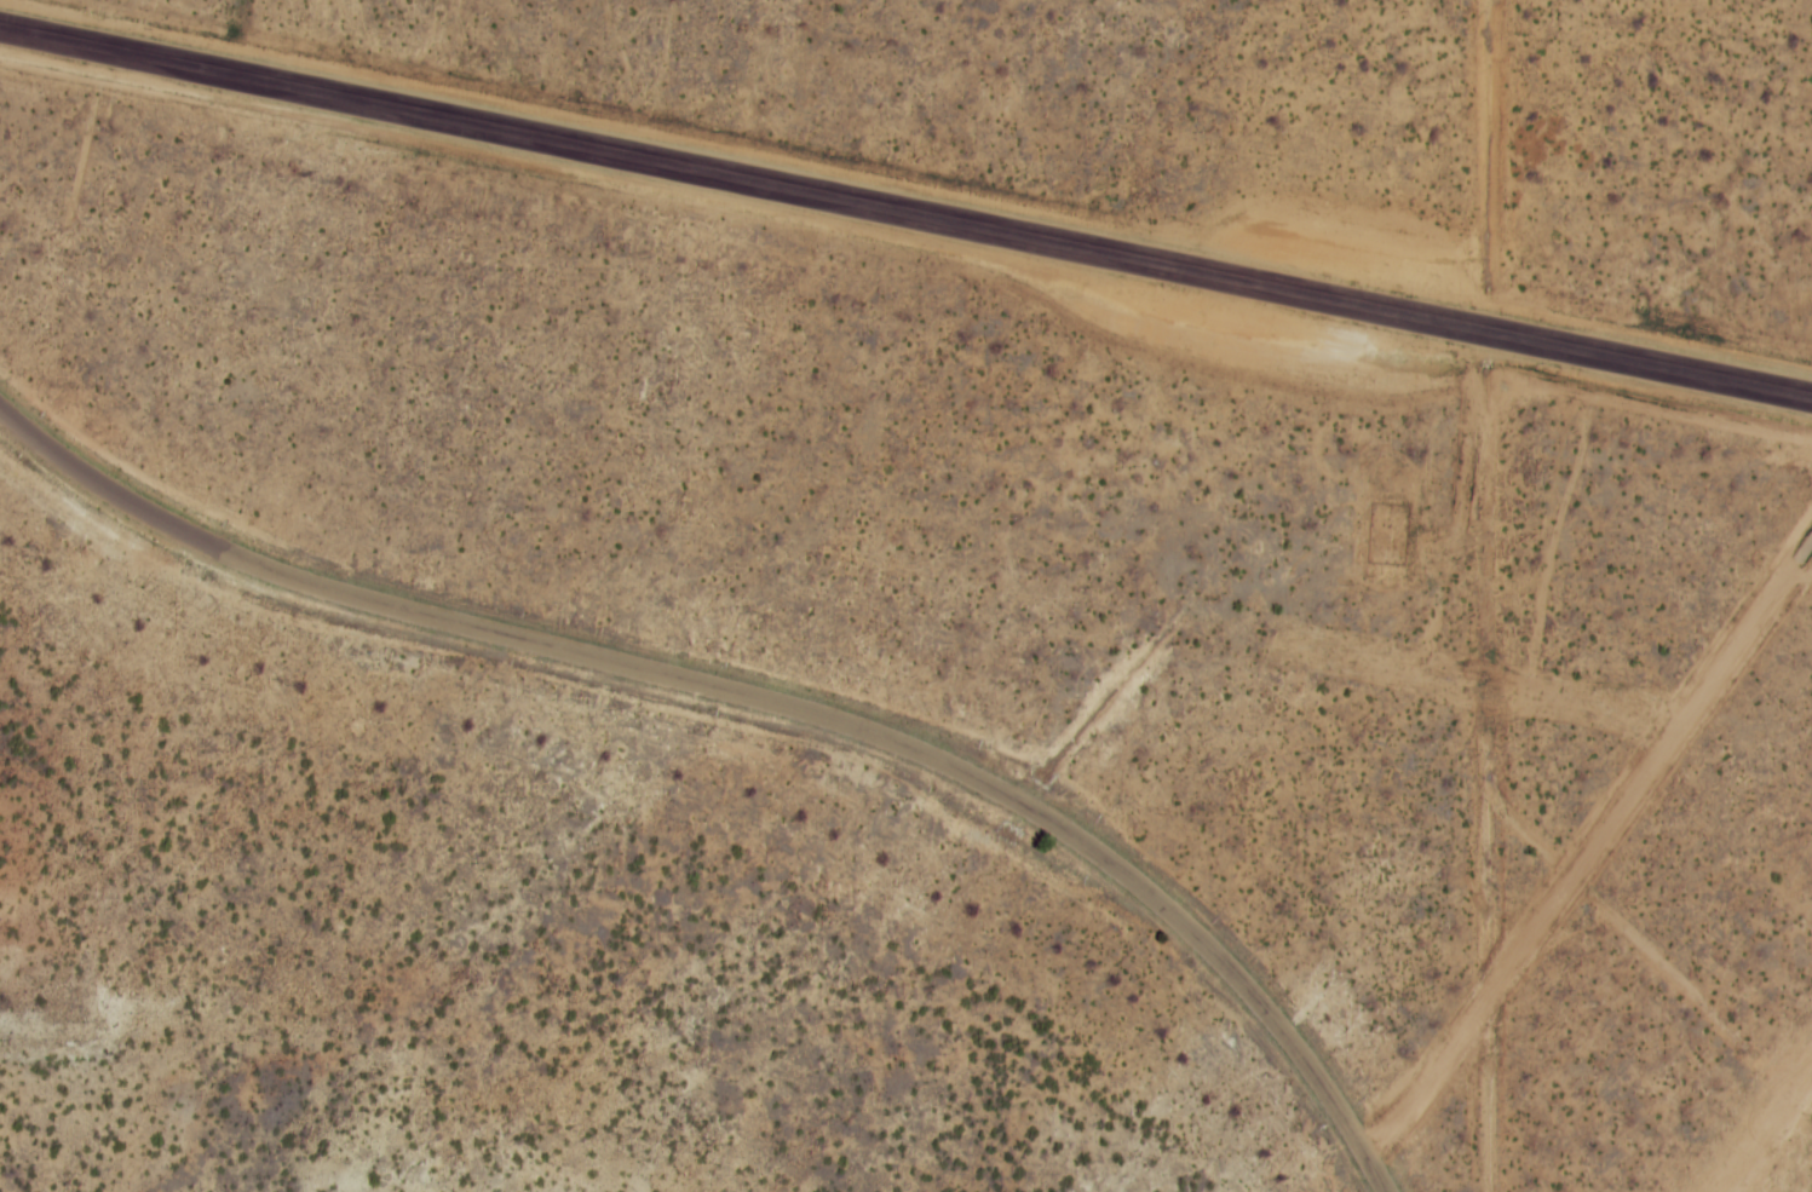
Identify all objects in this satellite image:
road: (1485, 595)
road: (759, 698)

